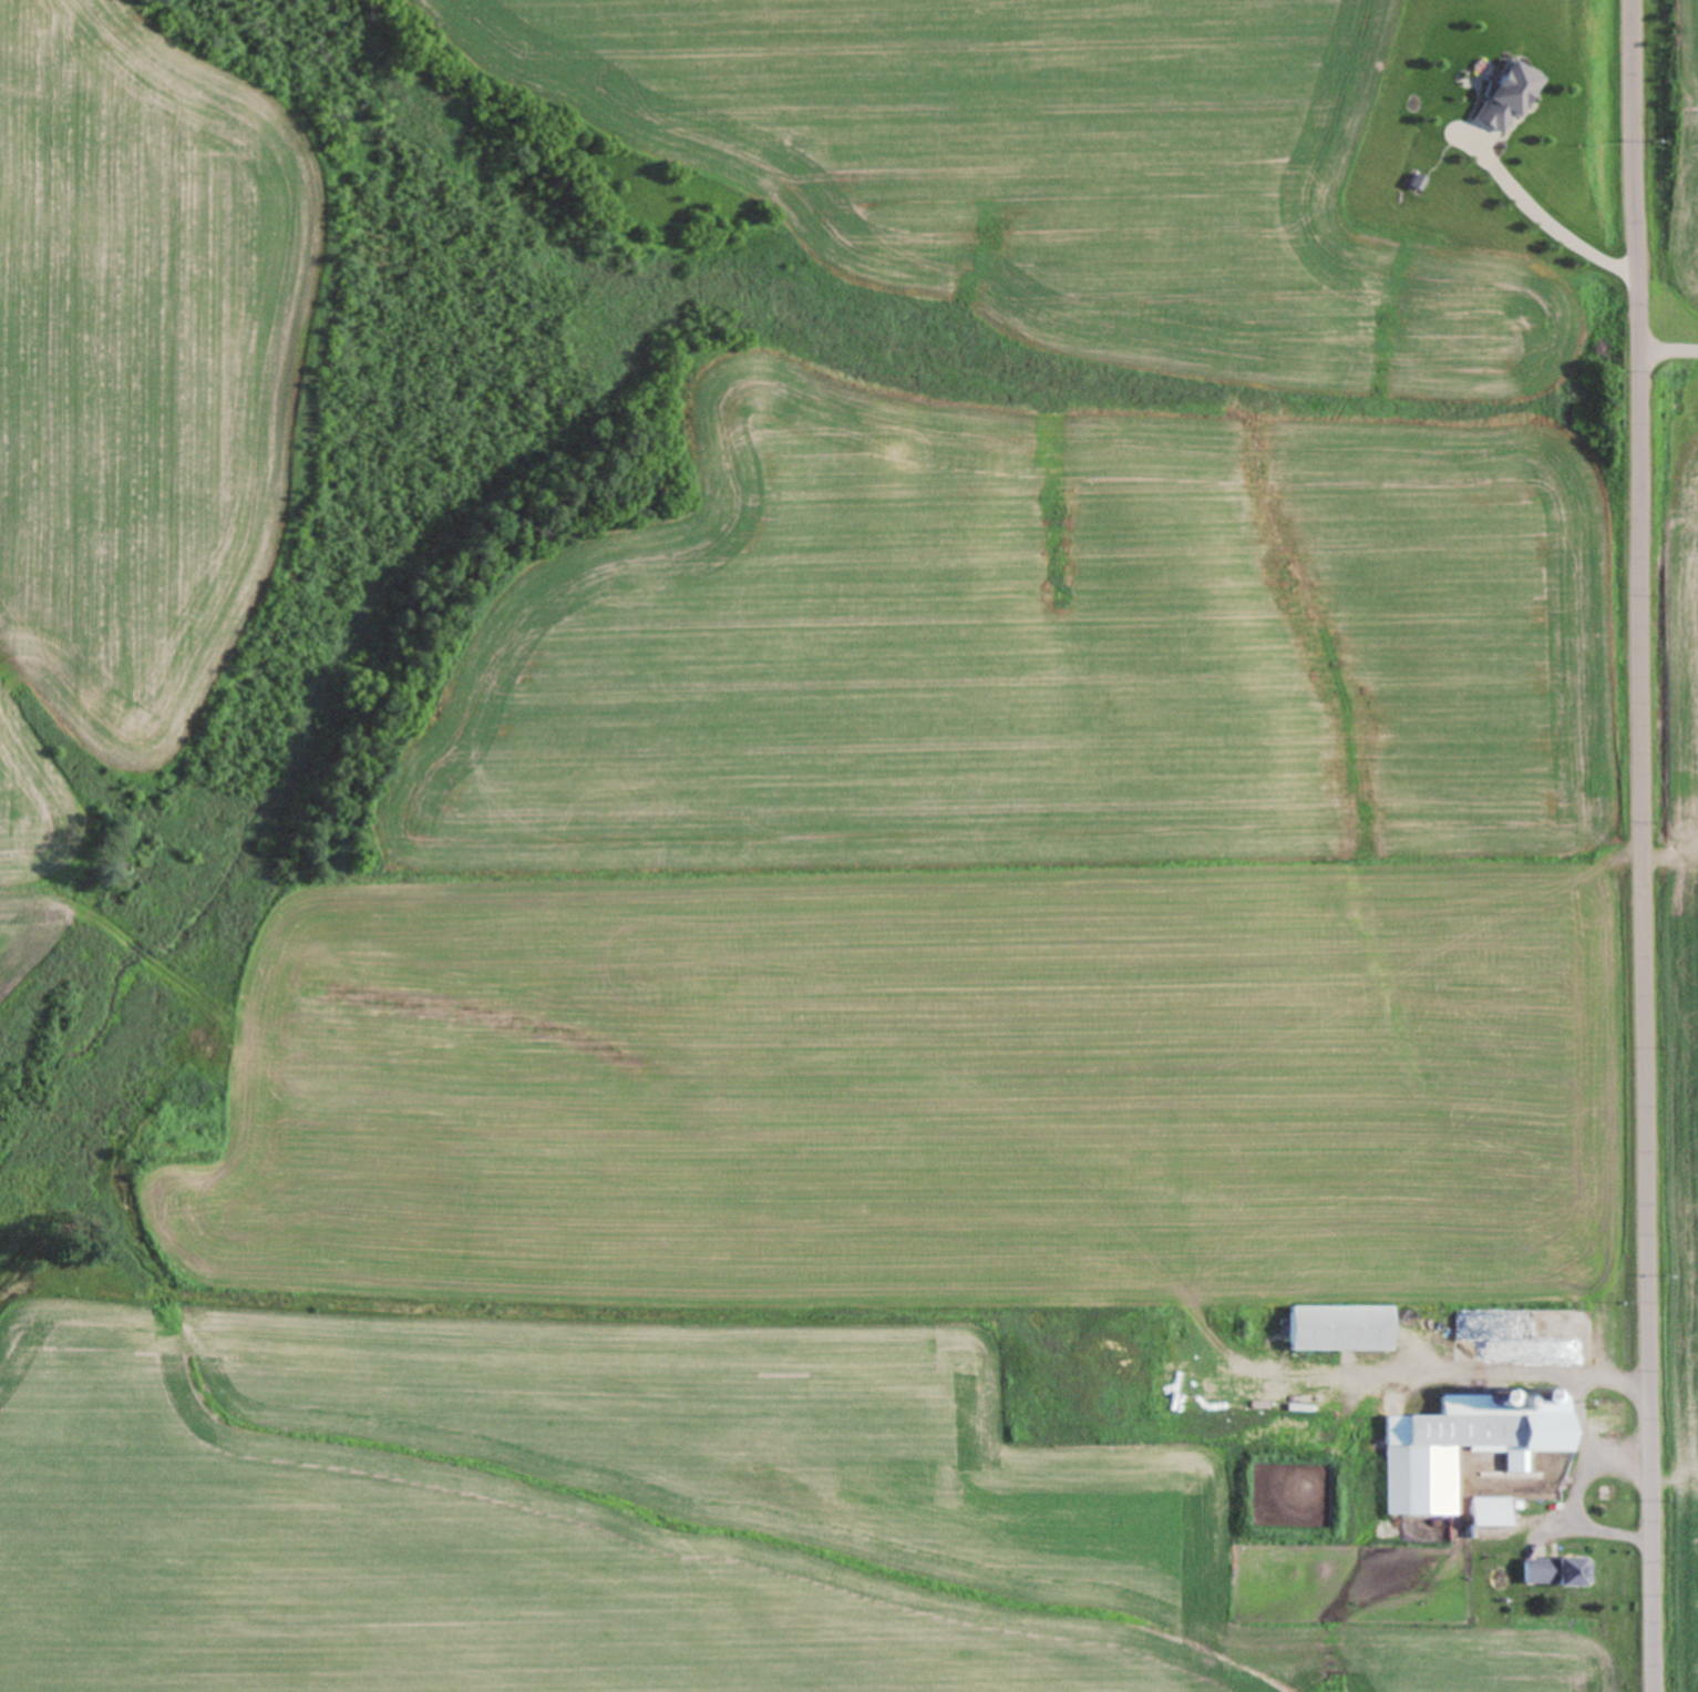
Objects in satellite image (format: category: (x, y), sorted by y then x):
road: (1535, 222)
road: (1661, 349)
road: (1633, 845)
building: (1330, 1331)
building: (1512, 1352)
road: (1440, 1370)
road: (1575, 1393)
building: (1459, 1447)
road: (1572, 1501)
building: (1483, 1515)
building: (1550, 1576)

